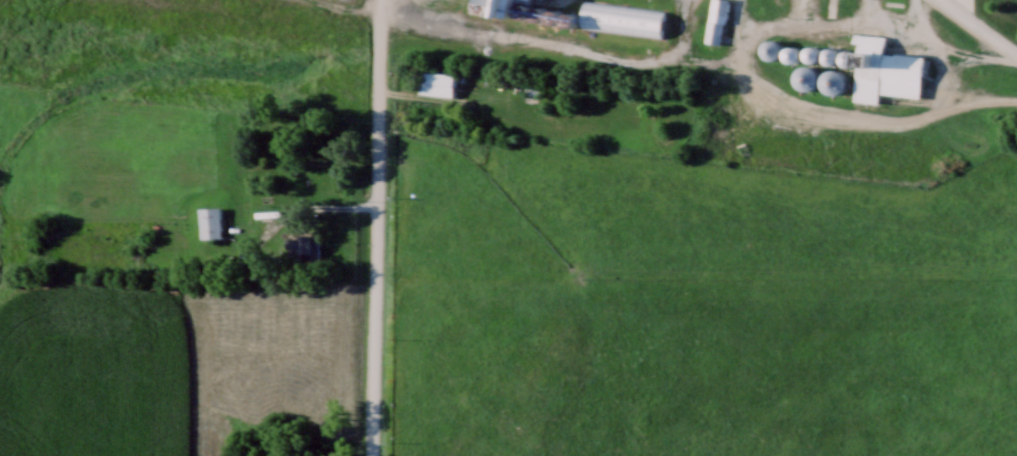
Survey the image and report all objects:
road: (352, 6)
road: (377, 6)
building: (498, 7)
building: (622, 18)
building: (716, 19)
road: (977, 29)
road: (935, 47)
building: (770, 48)
building: (792, 54)
building: (806, 69)
building: (885, 70)
building: (437, 83)
building: (210, 222)
road: (375, 234)
building: (303, 244)
building: (251, 455)

